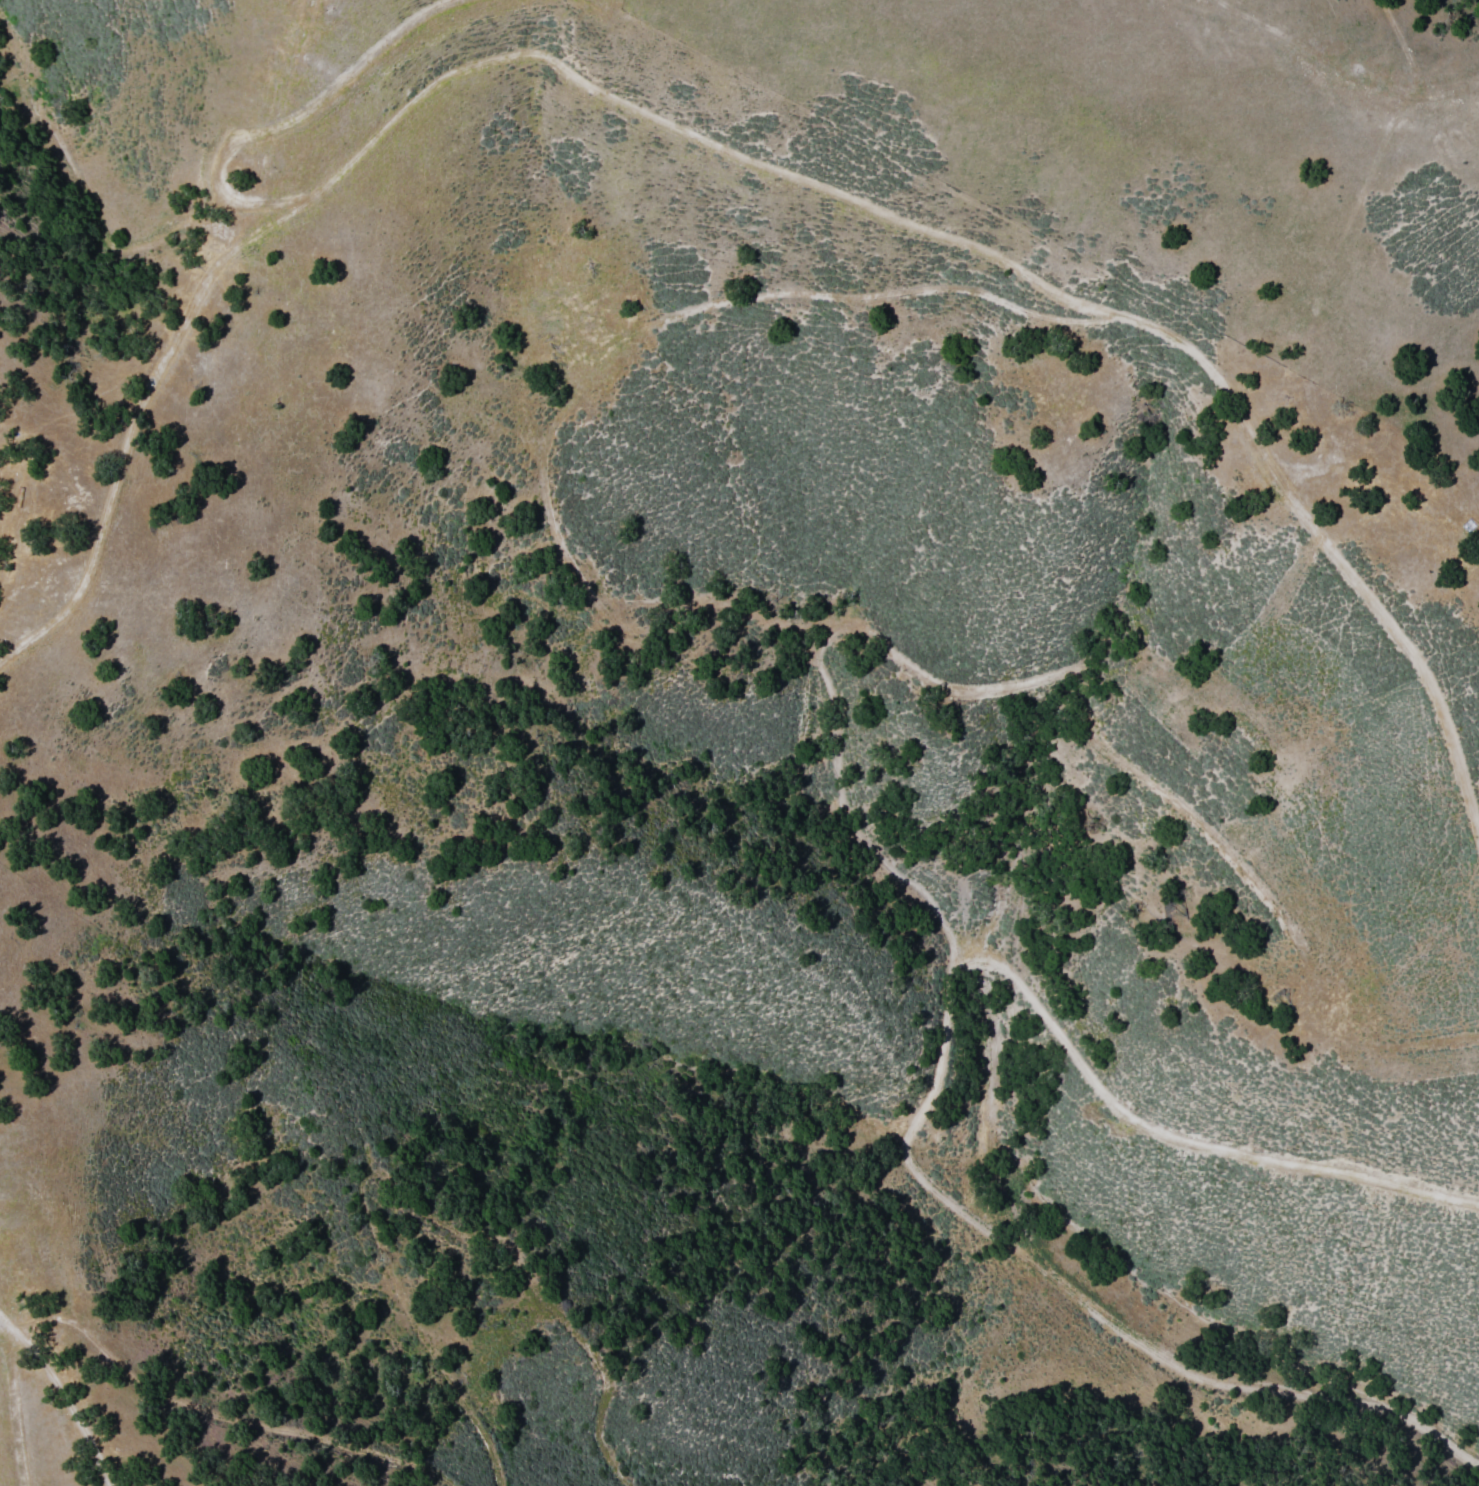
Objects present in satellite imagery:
road: (1266, 459)
road: (921, 1085)
road: (66, 1397)

